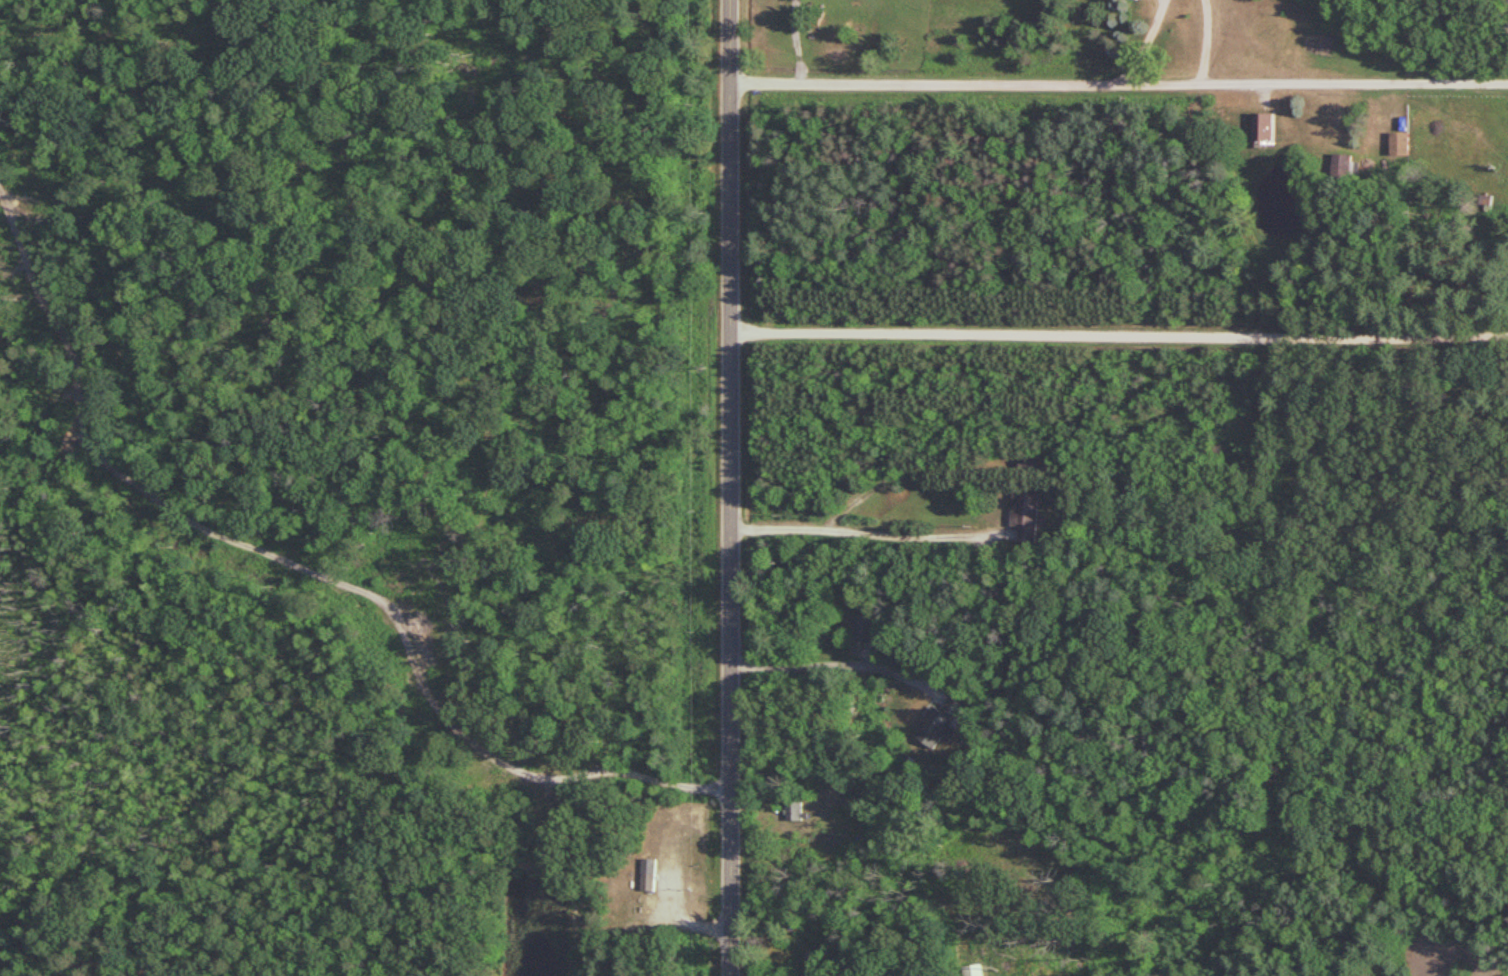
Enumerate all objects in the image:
road: (1132, 41)
road: (1195, 41)
road: (1120, 83)
building: (1262, 127)
building: (1399, 143)
road: (1120, 335)
building: (1038, 462)
road: (731, 487)
building: (1025, 515)
road: (866, 531)
road: (308, 576)
building: (867, 628)
road: (838, 663)
building: (933, 727)
building: (795, 811)
building: (648, 875)
building: (815, 963)

